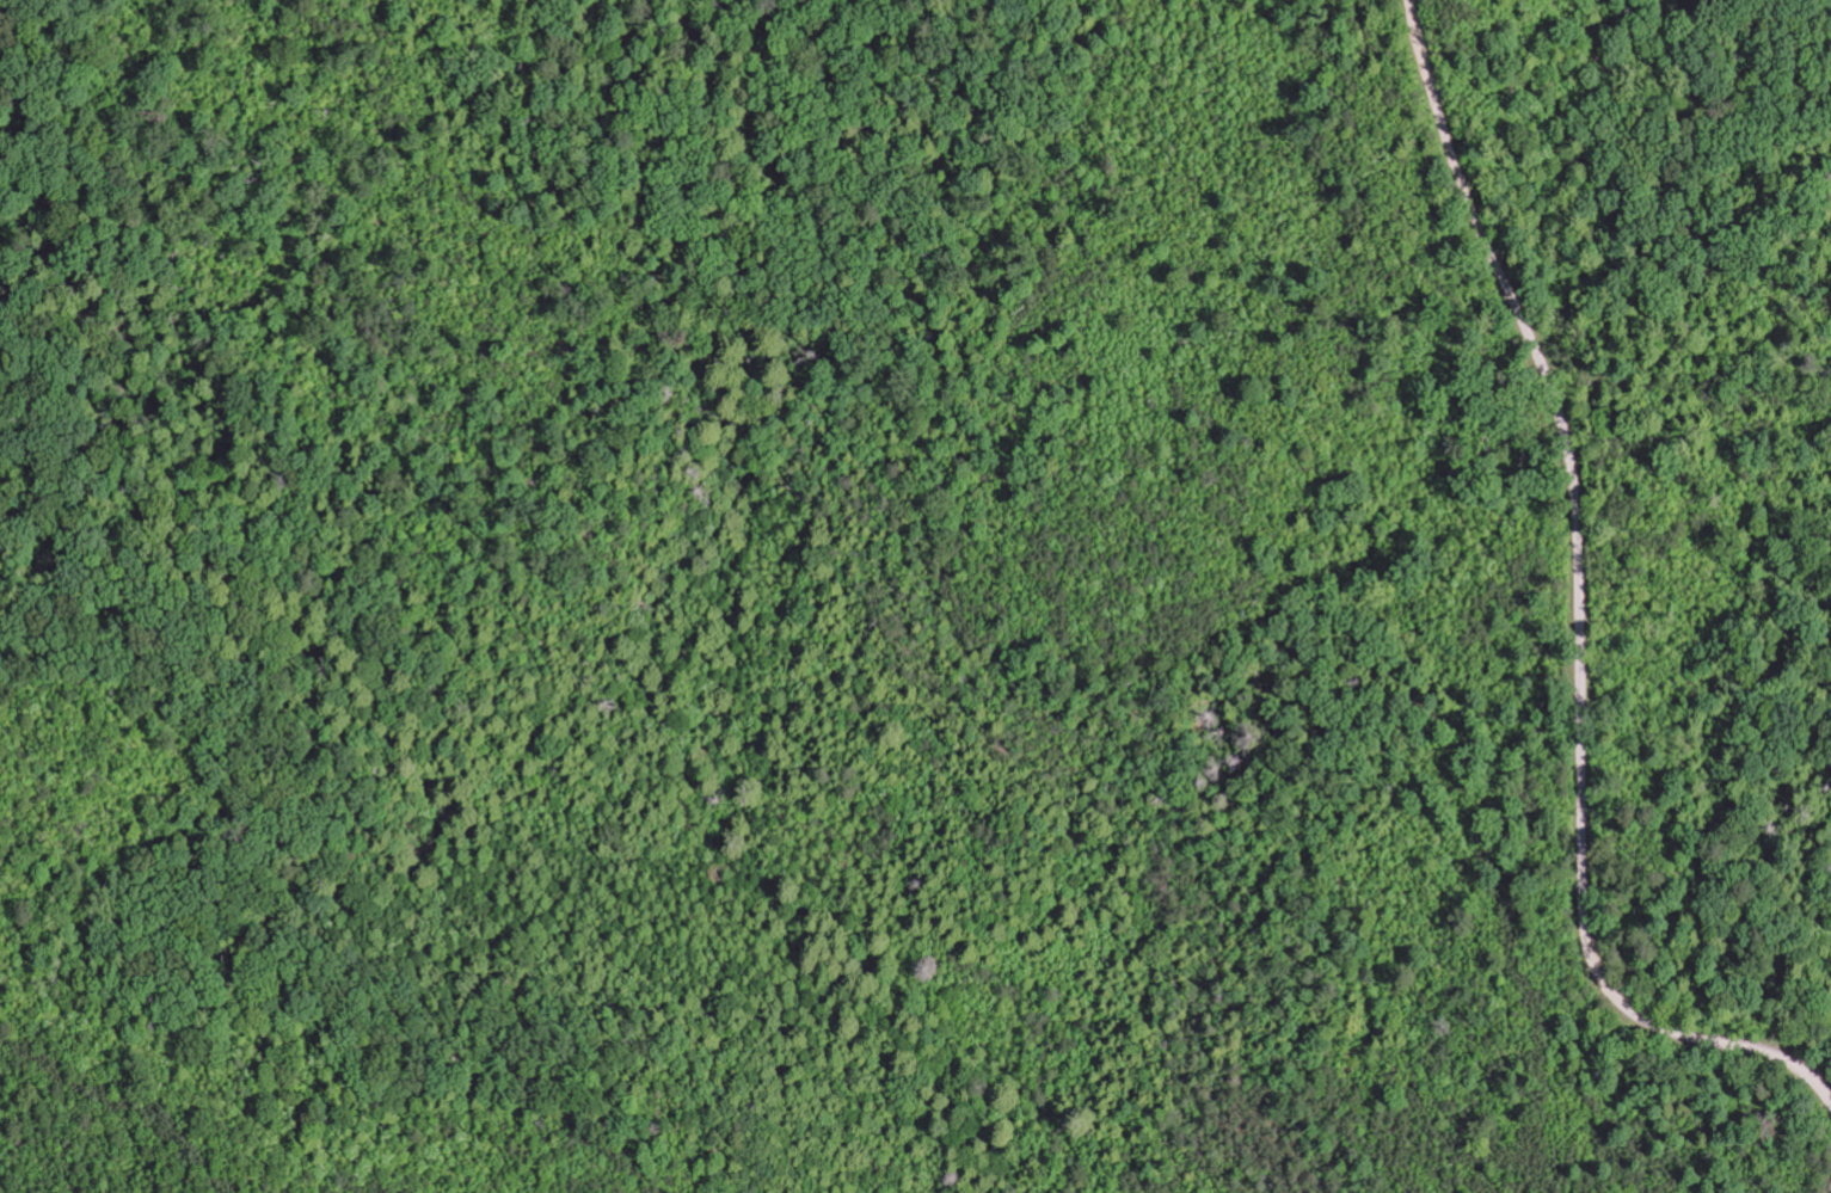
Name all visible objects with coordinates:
road: (1577, 611)
road: (53, 1142)
road: (1826, 1183)

